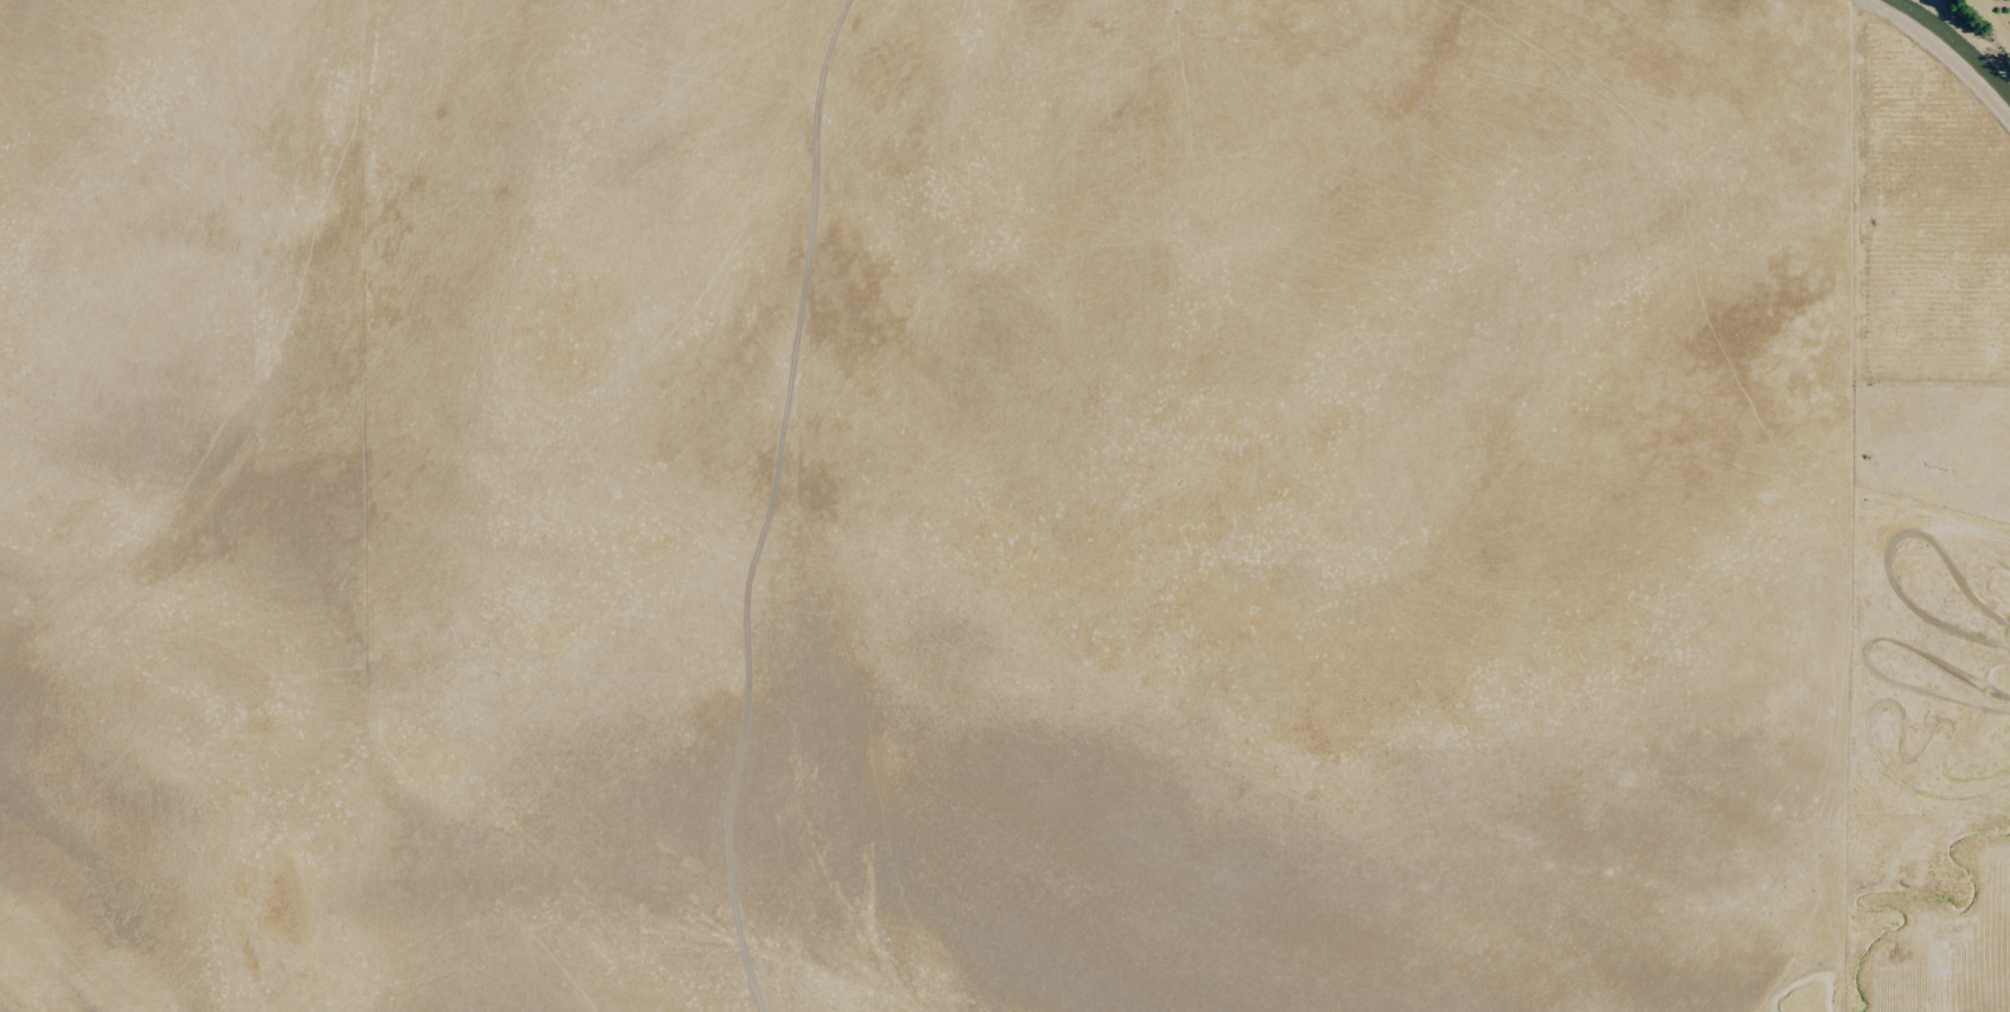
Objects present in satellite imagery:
road: (1987, 19)
crop: (1983, 23)
crop: (1003, 506)

